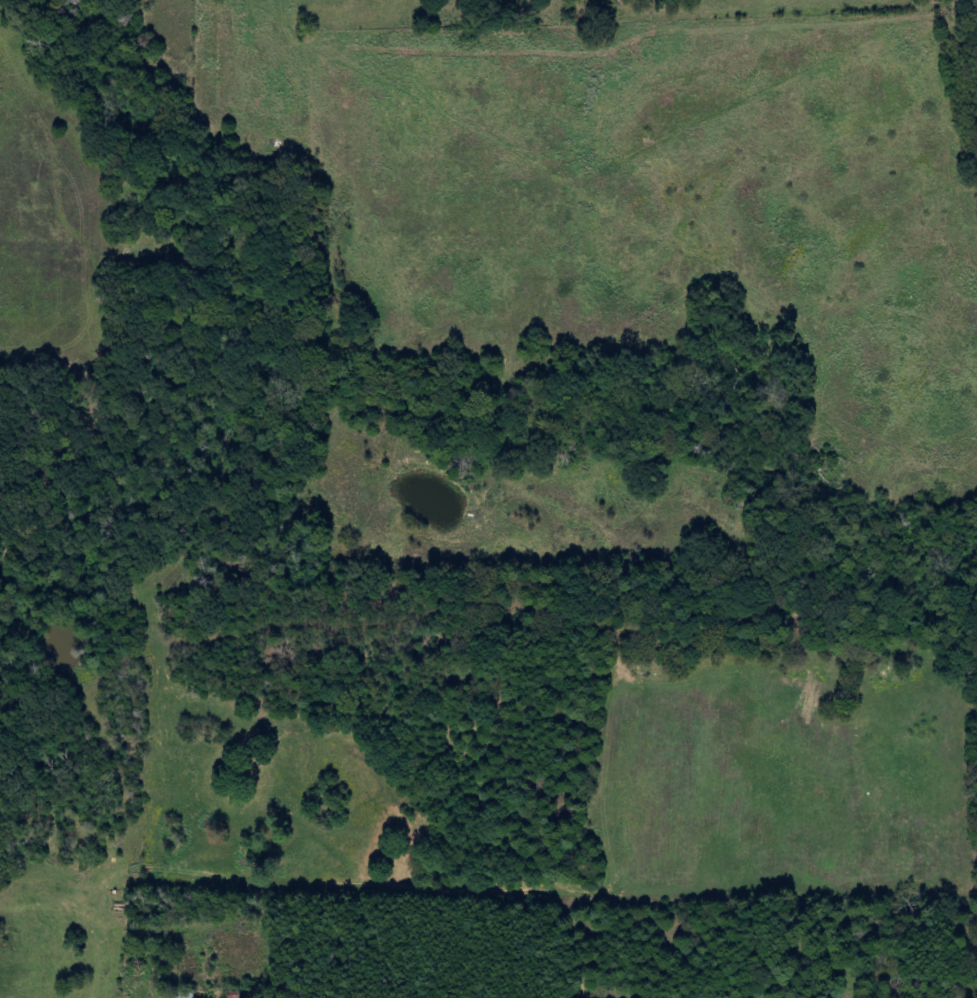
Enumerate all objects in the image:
building: (184, 995)

